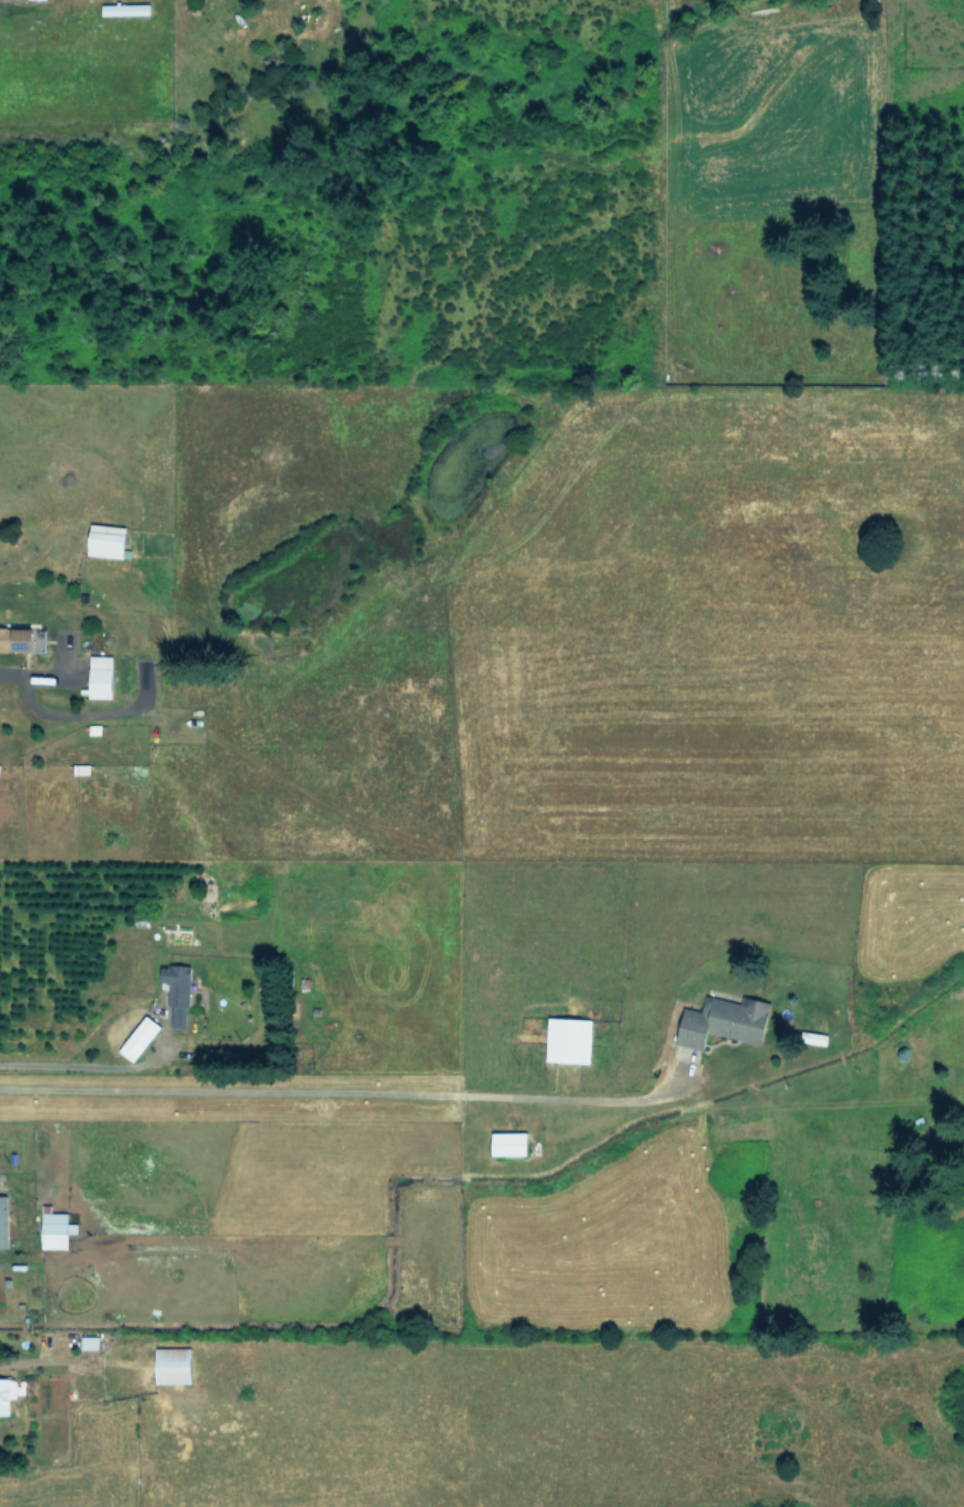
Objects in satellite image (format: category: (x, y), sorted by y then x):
building: (125, 9)
building: (107, 539)
building: (16, 638)
road: (36, 675)
building: (101, 675)
building: (177, 993)
building: (725, 1020)
building: (140, 1037)
building: (569, 1039)
road: (75, 1067)
road: (351, 1090)
building: (509, 1142)
building: (4, 1221)
building: (56, 1228)
building: (90, 1342)
building: (173, 1364)
building: (6, 1394)

